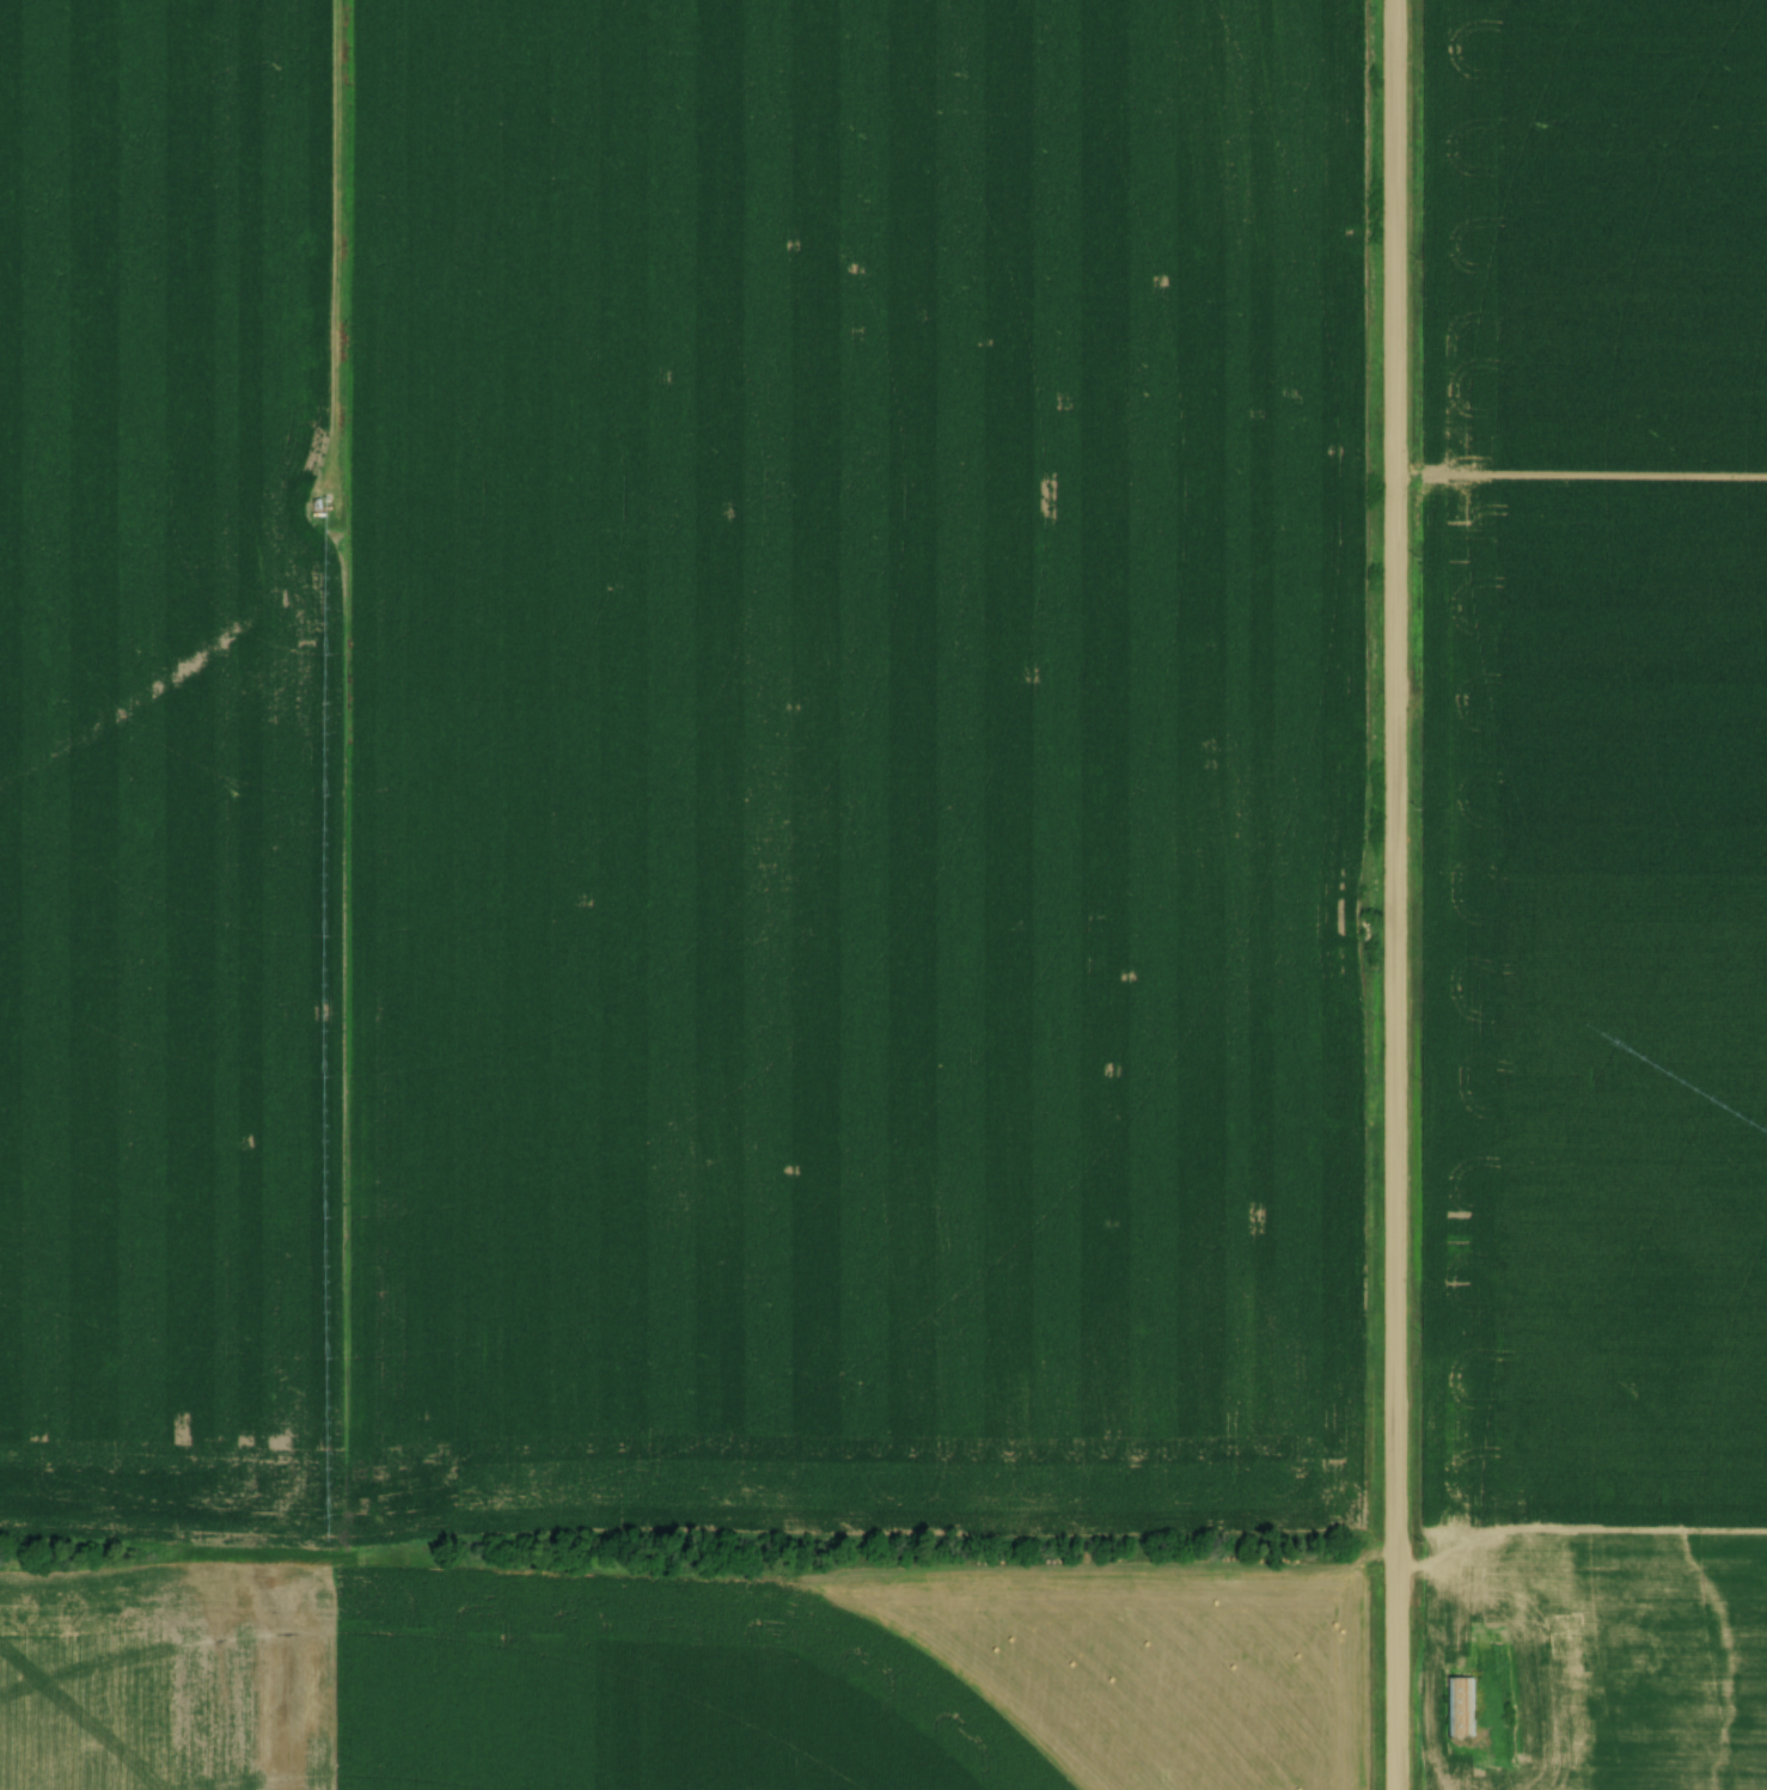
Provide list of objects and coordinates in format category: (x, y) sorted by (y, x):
road: (1395, 894)
road: (1461, 1566)
building: (1459, 1707)

